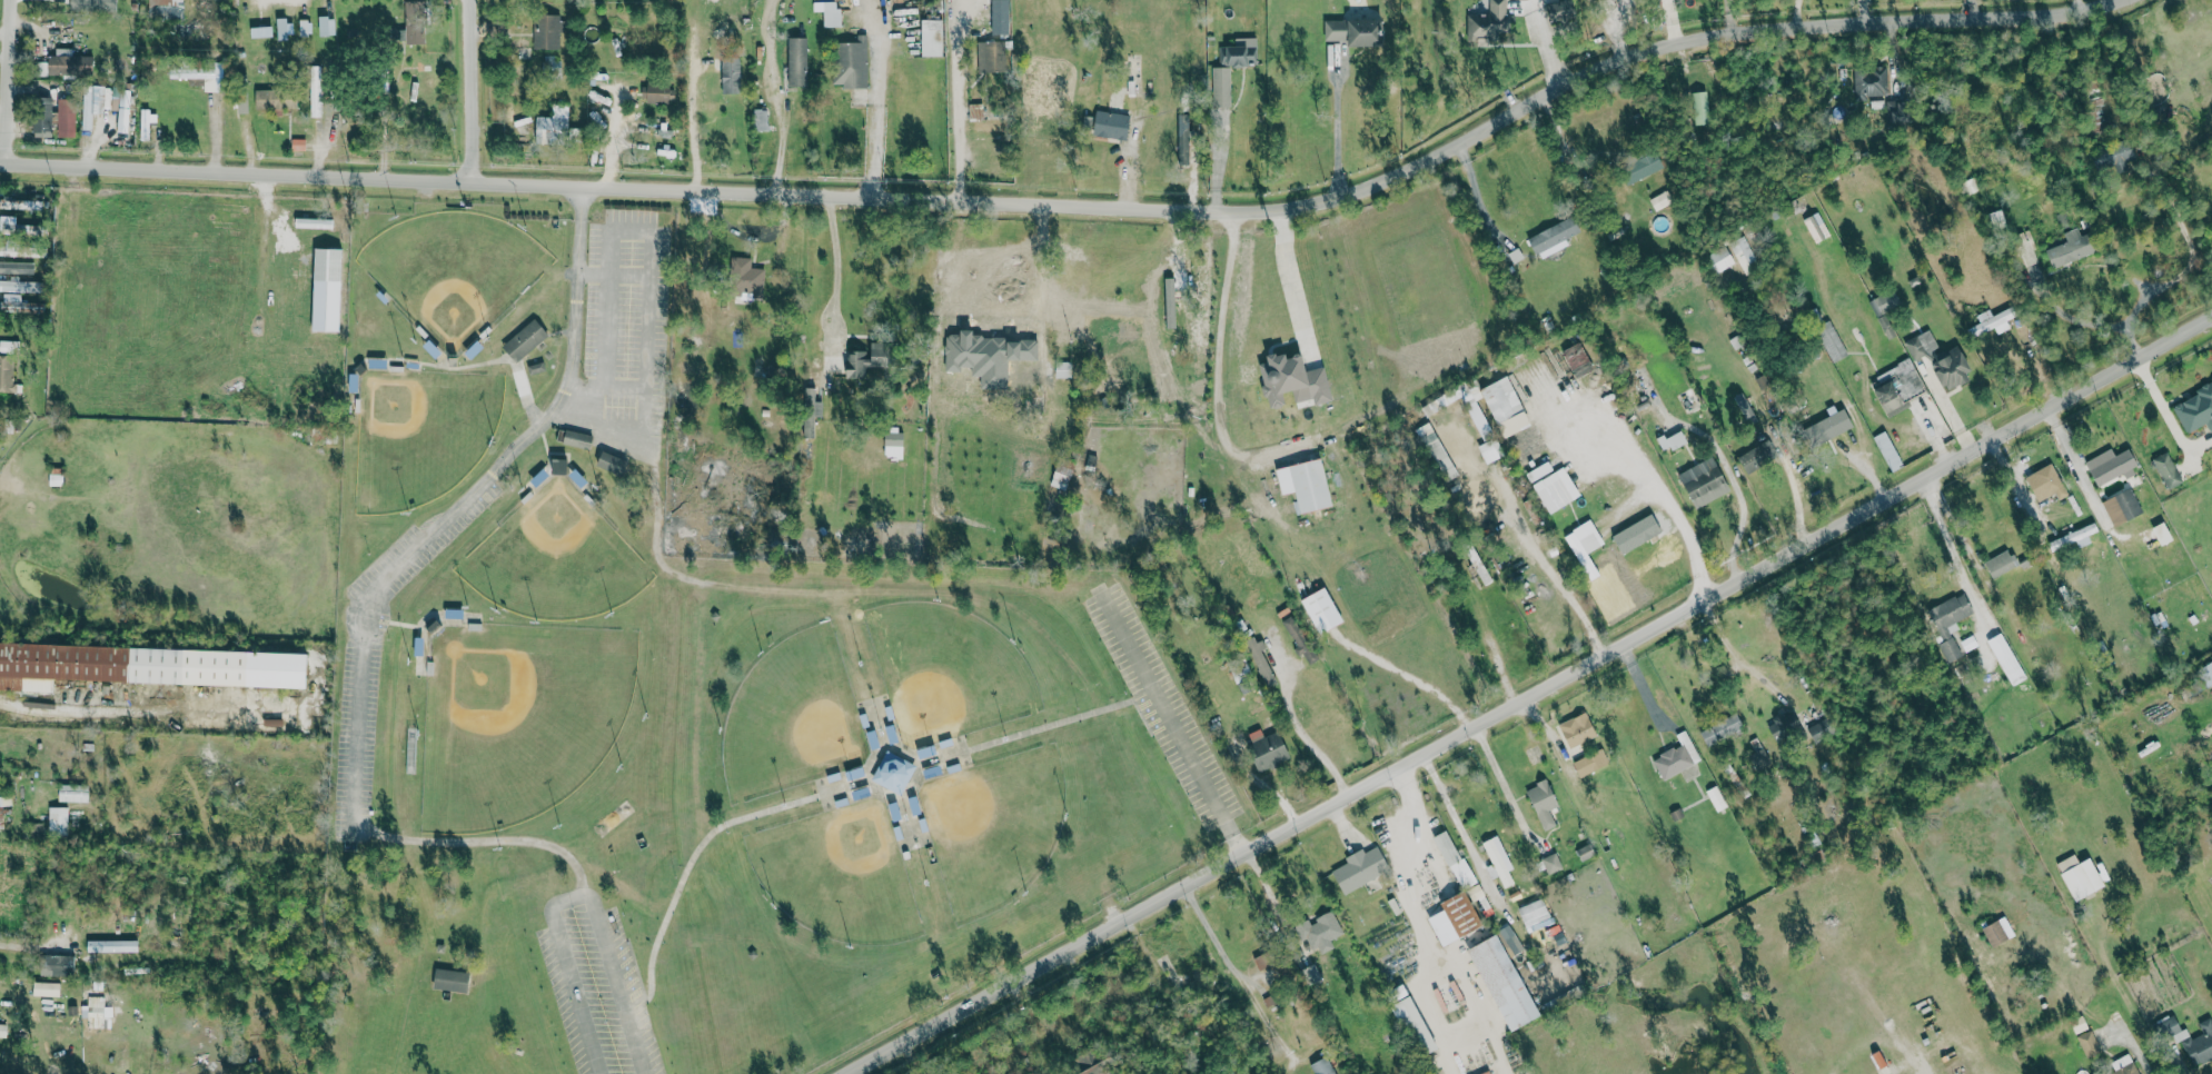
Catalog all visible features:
building: (844, 3)
road: (2082, 3)
building: (93, 4)
building: (165, 9)
building: (1561, 11)
building: (832, 14)
building: (1001, 17)
building: (415, 22)
building: (1489, 23)
building: (327, 26)
building: (282, 29)
building: (304, 29)
building: (497, 29)
building: (261, 32)
building: (546, 32)
building: (1356, 32)
building: (932, 38)
road: (1544, 42)
building: (1240, 53)
building: (992, 57)
building: (70, 62)
building: (797, 62)
building: (852, 63)
building: (195, 74)
building: (731, 76)
road: (13, 81)
building: (1871, 82)
building: (1221, 87)
road: (479, 91)
building: (658, 92)
road: (691, 95)
road: (776, 97)
road: (875, 98)
building: (274, 100)
road: (960, 100)
building: (95, 102)
building: (242, 103)
building: (1702, 108)
building: (123, 111)
building: (975, 111)
building: (42, 116)
building: (66, 118)
building: (761, 120)
building: (554, 126)
building: (1111, 126)
road: (1337, 126)
building: (1186, 140)
building: (298, 145)
building: (2123, 155)
road: (1478, 198)
building: (1662, 201)
building: (20, 203)
road: (1081, 205)
building: (19, 227)
road: (579, 227)
building: (1817, 228)
road: (648, 236)
building: (1555, 238)
building: (19, 248)
building: (2072, 249)
road: (834, 250)
building: (1745, 256)
building: (1722, 259)
building: (17, 267)
road: (1287, 269)
building: (744, 272)
building: (21, 286)
road: (1042, 286)
building: (327, 289)
building: (1171, 302)
building: (19, 304)
building: (1885, 310)
building: (1993, 320)
building: (525, 339)
building: (1833, 342)
building: (1918, 345)
road: (573, 346)
building: (865, 359)
building: (1579, 359)
building: (6, 365)
building: (535, 368)
building: (1953, 368)
building: (1063, 369)
road: (1217, 370)
building: (1293, 379)
road: (524, 395)
building: (1889, 396)
building: (1507, 406)
building: (2196, 409)
building: (810, 411)
building: (1748, 411)
building: (1832, 426)
building: (1482, 427)
building: (577, 439)
building: (1673, 440)
building: (1888, 450)
building: (1441, 456)
building: (1757, 456)
building: (613, 463)
building: (2112, 465)
building: (561, 466)
building: (2168, 469)
building: (1540, 470)
building: (1067, 475)
building: (1704, 481)
road: (1733, 483)
building: (2047, 483)
building: (1306, 484)
building: (1557, 489)
building: (2122, 507)
road: (1674, 509)
building: (2075, 536)
building: (866, 539)
building: (1586, 545)
road: (1951, 549)
building: (2001, 564)
building: (1322, 609)
building: (454, 614)
building: (1950, 621)
building: (1300, 638)
building: (1968, 643)
building: (419, 646)
building: (2006, 659)
building: (1262, 664)
building: (146, 666)
building: (2206, 673)
road: (1528, 694)
road: (168, 696)
road: (1170, 722)
building: (1785, 726)
road: (1299, 729)
building: (1578, 729)
building: (1723, 729)
building: (1821, 729)
building: (1268, 749)
building: (1677, 757)
building: (1762, 759)
building: (1591, 763)
building: (73, 793)
building: (1716, 798)
building: (1544, 803)
road: (354, 808)
building: (58, 821)
building: (1585, 852)
building: (1455, 859)
building: (1499, 861)
building: (1551, 864)
building: (1360, 868)
building: (2081, 876)
building: (1536, 915)
building: (1456, 918)
road: (1445, 923)
building: (2000, 931)
building: (1320, 932)
building: (1511, 939)
road: (73, 949)
building: (57, 965)
building: (1272, 969)
building: (1312, 976)
building: (452, 979)
building: (1505, 983)
building: (47, 988)
building: (96, 1012)
building: (2168, 1026)
building: (2, 1031)
building: (2089, 1044)
building: (2201, 1044)
road: (2133, 1045)
road: (2179, 1062)
building: (1092, 1064)
building: (2125, 1065)
building: (1323, 1066)

